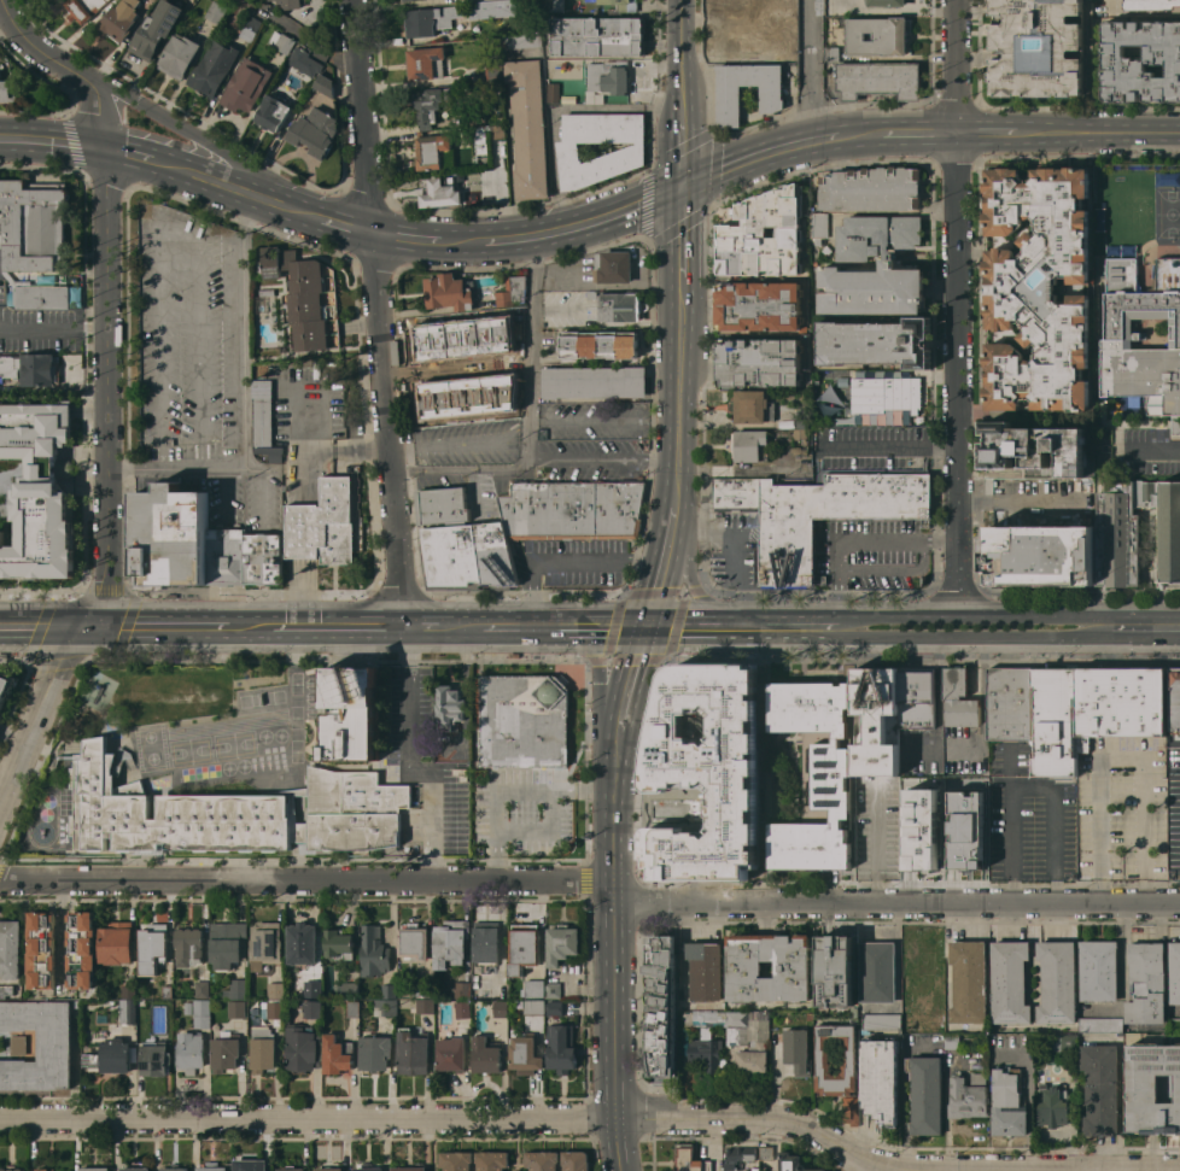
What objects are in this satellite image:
building: (408, 0)
building: (888, 2)
building: (291, 4)
building: (555, 5)
building: (620, 5)
building: (747, 5)
building: (819, 5)
building: (1152, 5)
building: (82, 8)
building: (493, 8)
road: (896, 8)
building: (787, 10)
building: (216, 12)
building: (122, 19)
building: (430, 19)
building: (156, 29)
building: (251, 29)
road: (80, 30)
building: (748, 35)
building: (600, 36)
building: (877, 36)
building: (518, 41)
building: (281, 42)
building: (1038, 47)
road: (678, 52)
building: (834, 53)
building: (785, 54)
building: (180, 57)
building: (304, 62)
building: (1141, 62)
building: (426, 63)
building: (214, 68)
building: (493, 71)
road: (811, 74)
building: (607, 78)
building: (878, 80)
road: (420, 82)
building: (246, 84)
building: (325, 84)
building: (7, 89)
building: (553, 92)
building: (730, 92)
building: (428, 106)
building: (274, 112)
building: (477, 116)
building: (527, 129)
building: (498, 131)
road: (182, 133)
building: (314, 133)
road: (905, 135)
road: (991, 136)
road: (1102, 137)
building: (479, 140)
road: (53, 142)
road: (679, 147)
building: (431, 152)
building: (629, 152)
road: (765, 159)
road: (138, 160)
road: (510, 170)
building: (872, 189)
road: (236, 191)
traffic signals: (680, 191)
building: (439, 192)
road: (338, 221)
building: (33, 224)
building: (820, 224)
road: (572, 228)
road: (680, 233)
building: (764, 234)
building: (877, 234)
road: (414, 239)
building: (1122, 262)
building: (1168, 262)
building: (615, 267)
building: (8, 276)
building: (1040, 288)
building: (874, 289)
building: (513, 291)
building: (268, 292)
building: (451, 292)
road: (109, 293)
building: (591, 294)
building: (42, 297)
building: (308, 298)
road: (959, 305)
building: (619, 306)
building: (760, 306)
road: (378, 312)
road: (54, 326)
building: (472, 326)
building: (1144, 339)
building: (877, 342)
building: (600, 344)
road: (530, 349)
building: (760, 362)
building: (33, 369)
building: (595, 382)
road: (679, 390)
building: (886, 393)
road: (244, 399)
building: (753, 406)
road: (603, 418)
building: (804, 420)
building: (259, 429)
building: (800, 441)
building: (749, 445)
road: (889, 445)
road: (340, 447)
road: (1152, 447)
building: (1039, 451)
building: (271, 452)
building: (1104, 453)
road: (534, 459)
building: (39, 490)
building: (736, 493)
road: (1018, 500)
building: (442, 504)
building: (572, 509)
building: (829, 515)
building: (322, 523)
building: (1137, 531)
building: (170, 537)
road: (857, 539)
road: (737, 546)
building: (1040, 555)
building: (227, 556)
building: (466, 556)
building: (263, 558)
road: (566, 561)
road: (665, 564)
road: (694, 587)
road: (1023, 611)
road: (1133, 611)
road: (937, 613)
road: (874, 614)
road: (462, 623)
road: (40, 625)
traffic signals: (80, 625)
road: (153, 625)
road: (247, 625)
road: (337, 625)
road: (423, 625)
road: (566, 625)
traffic signals: (649, 626)
road: (742, 626)
road: (969, 637)
road: (1143, 637)
road: (589, 648)
building: (728, 686)
building: (6, 687)
road: (630, 689)
building: (916, 699)
building: (959, 699)
building: (1175, 699)
building: (1121, 702)
building: (449, 703)
building: (1010, 704)
road: (982, 708)
building: (691, 712)
building: (351, 714)
building: (735, 715)
road: (40, 718)
building: (522, 720)
building: (877, 721)
building: (1055, 722)
road: (1123, 756)
road: (409, 765)
building: (461, 768)
building: (817, 773)
building: (717, 780)
road: (594, 786)
road: (1033, 789)
road: (497, 797)
road: (699, 800)
building: (293, 809)
building: (354, 810)
building: (167, 813)
road: (612, 816)
road: (744, 829)
building: (921, 829)
building: (964, 830)
road: (659, 837)
road: (876, 844)
road: (306, 879)
road: (896, 906)
road: (62, 924)
building: (117, 942)
building: (414, 942)
building: (302, 943)
building: (338, 943)
building: (450, 943)
building: (562, 943)
building: (227, 944)
building: (265, 944)
building: (189, 945)
building: (485, 945)
building: (525, 947)
building: (10, 948)
building: (153, 948)
building: (42, 949)
building: (82, 949)
building: (374, 952)
road: (946, 964)
building: (793, 967)
building: (706, 970)
building: (835, 971)
building: (1098, 971)
building: (878, 972)
building: (1175, 972)
building: (969, 982)
building: (1010, 982)
building: (1057, 983)
building: (1146, 983)
building: (536, 988)
building: (203, 989)
building: (236, 989)
building: (312, 989)
building: (350, 989)
building: (6, 990)
building: (274, 990)
building: (390, 990)
building: (422, 990)
building: (463, 990)
building: (553, 990)
building: (129, 991)
building: (168, 991)
building: (425, 1006)
building: (660, 1006)
building: (385, 1007)
building: (534, 1007)
building: (555, 1007)
building: (189, 1008)
building: (314, 1008)
building: (354, 1008)
building: (501, 1008)
building: (128, 1009)
building: (238, 1009)
building: (271, 1009)
building: (462, 1009)
building: (203, 1013)
building: (810, 1015)
building: (701, 1018)
building: (290, 1019)
building: (882, 1021)
building: (142, 1023)
building: (1102, 1025)
building: (1174, 1025)
road: (614, 1026)
building: (748, 1038)
building: (951, 1041)
building: (1065, 1042)
building: (18, 1044)
building: (39, 1044)
building: (303, 1048)
building: (561, 1048)
building: (263, 1049)
building: (707, 1050)
building: (798, 1050)
building: (191, 1052)
building: (226, 1052)
building: (413, 1052)
building: (375, 1053)
building: (451, 1053)
building: (337, 1054)
building: (485, 1054)
building: (849, 1054)
building: (525, 1055)
building: (111, 1056)
building: (156, 1059)
building: (881, 1079)
building: (1152, 1088)
building: (1102, 1089)
building: (925, 1095)
building: (969, 1096)
building: (1007, 1103)
building: (1053, 1105)
building: (851, 1109)
road: (757, 1117)
road: (308, 1118)
building: (766, 1153)
building: (738, 1157)
building: (689, 1159)
building: (456, 1160)
building: (492, 1160)
building: (542, 1160)
building: (576, 1160)
building: (793, 1163)
building: (251, 1165)
building: (212, 1166)
building: (12, 1167)
building: (368, 1167)
building: (95, 1169)
building: (135, 1169)
building: (174, 1169)
building: (291, 1169)
building: (329, 1169)
building: (410, 1169)
building: (46, 1170)
road: (871, 1170)

